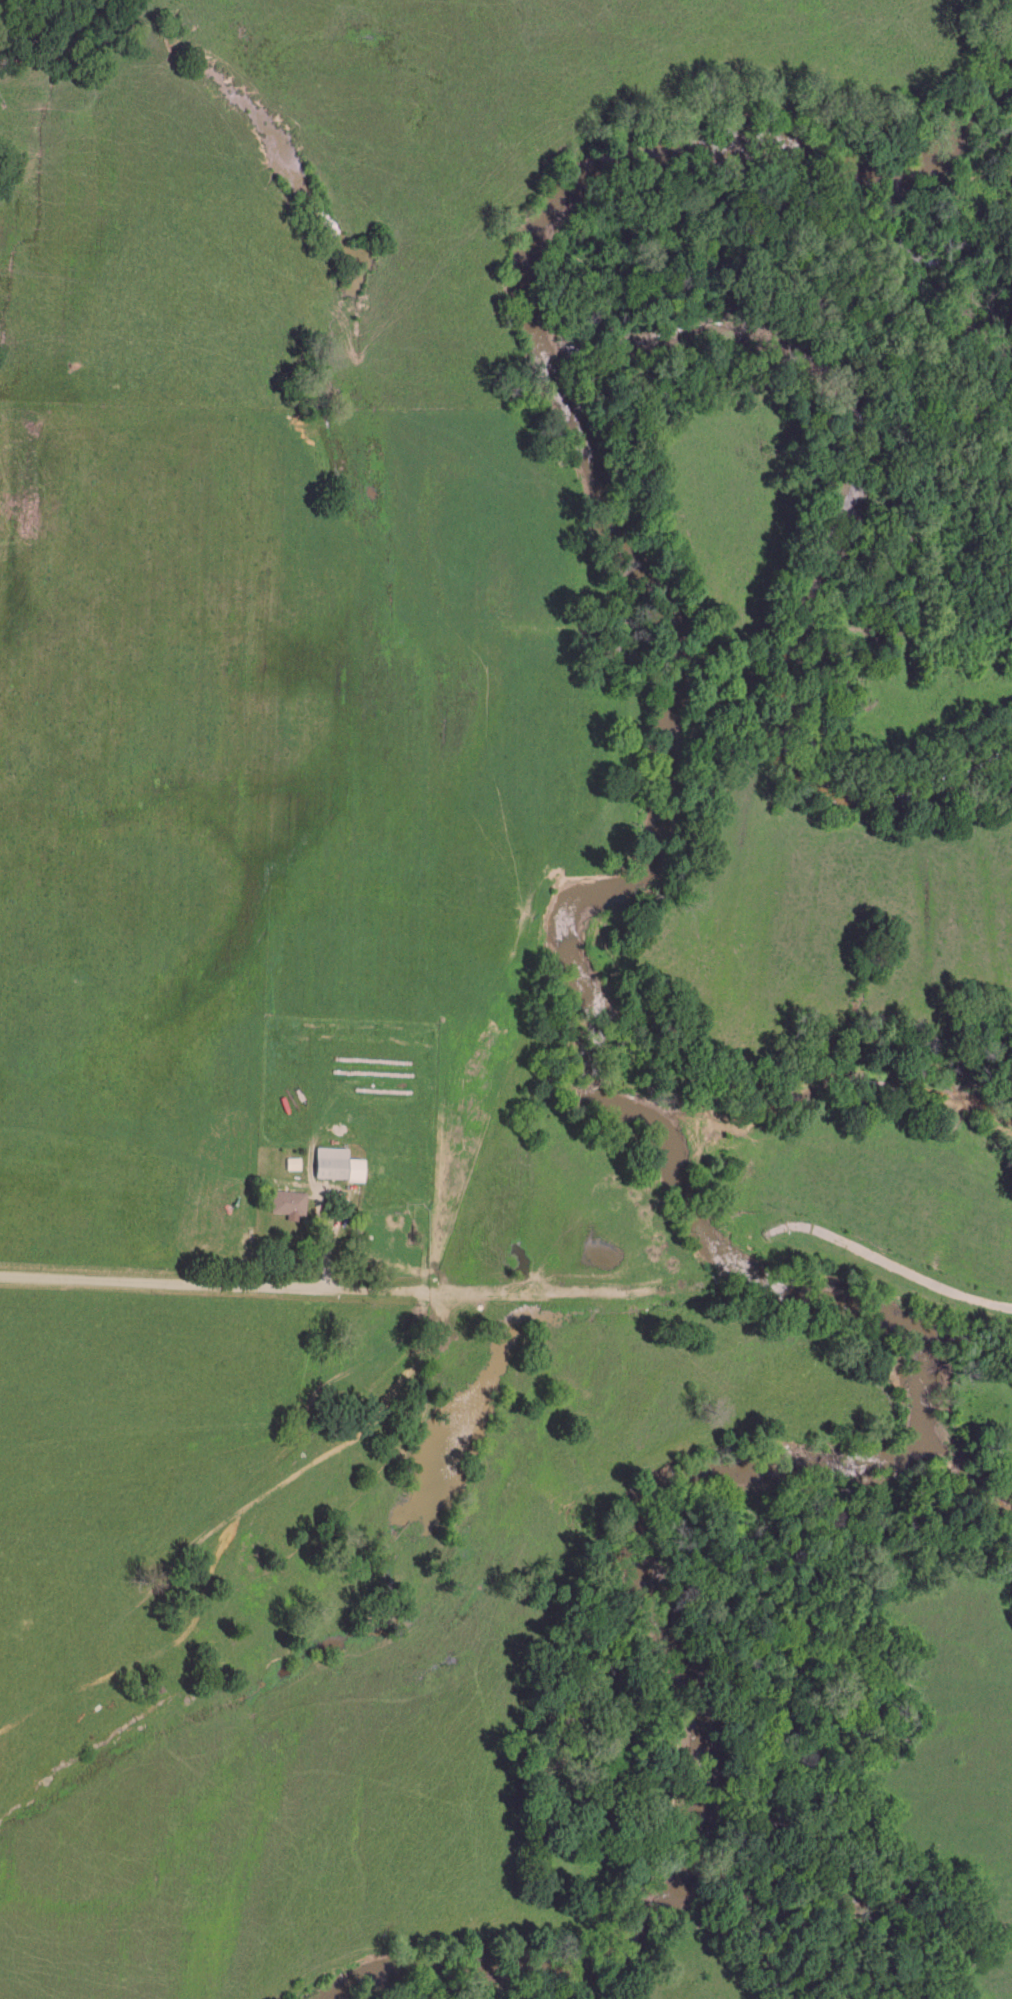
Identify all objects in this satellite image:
building: (296, 1161)
building: (340, 1162)
building: (290, 1200)
road: (344, 1231)
road: (739, 1256)
road: (887, 1265)
road: (359, 1291)

